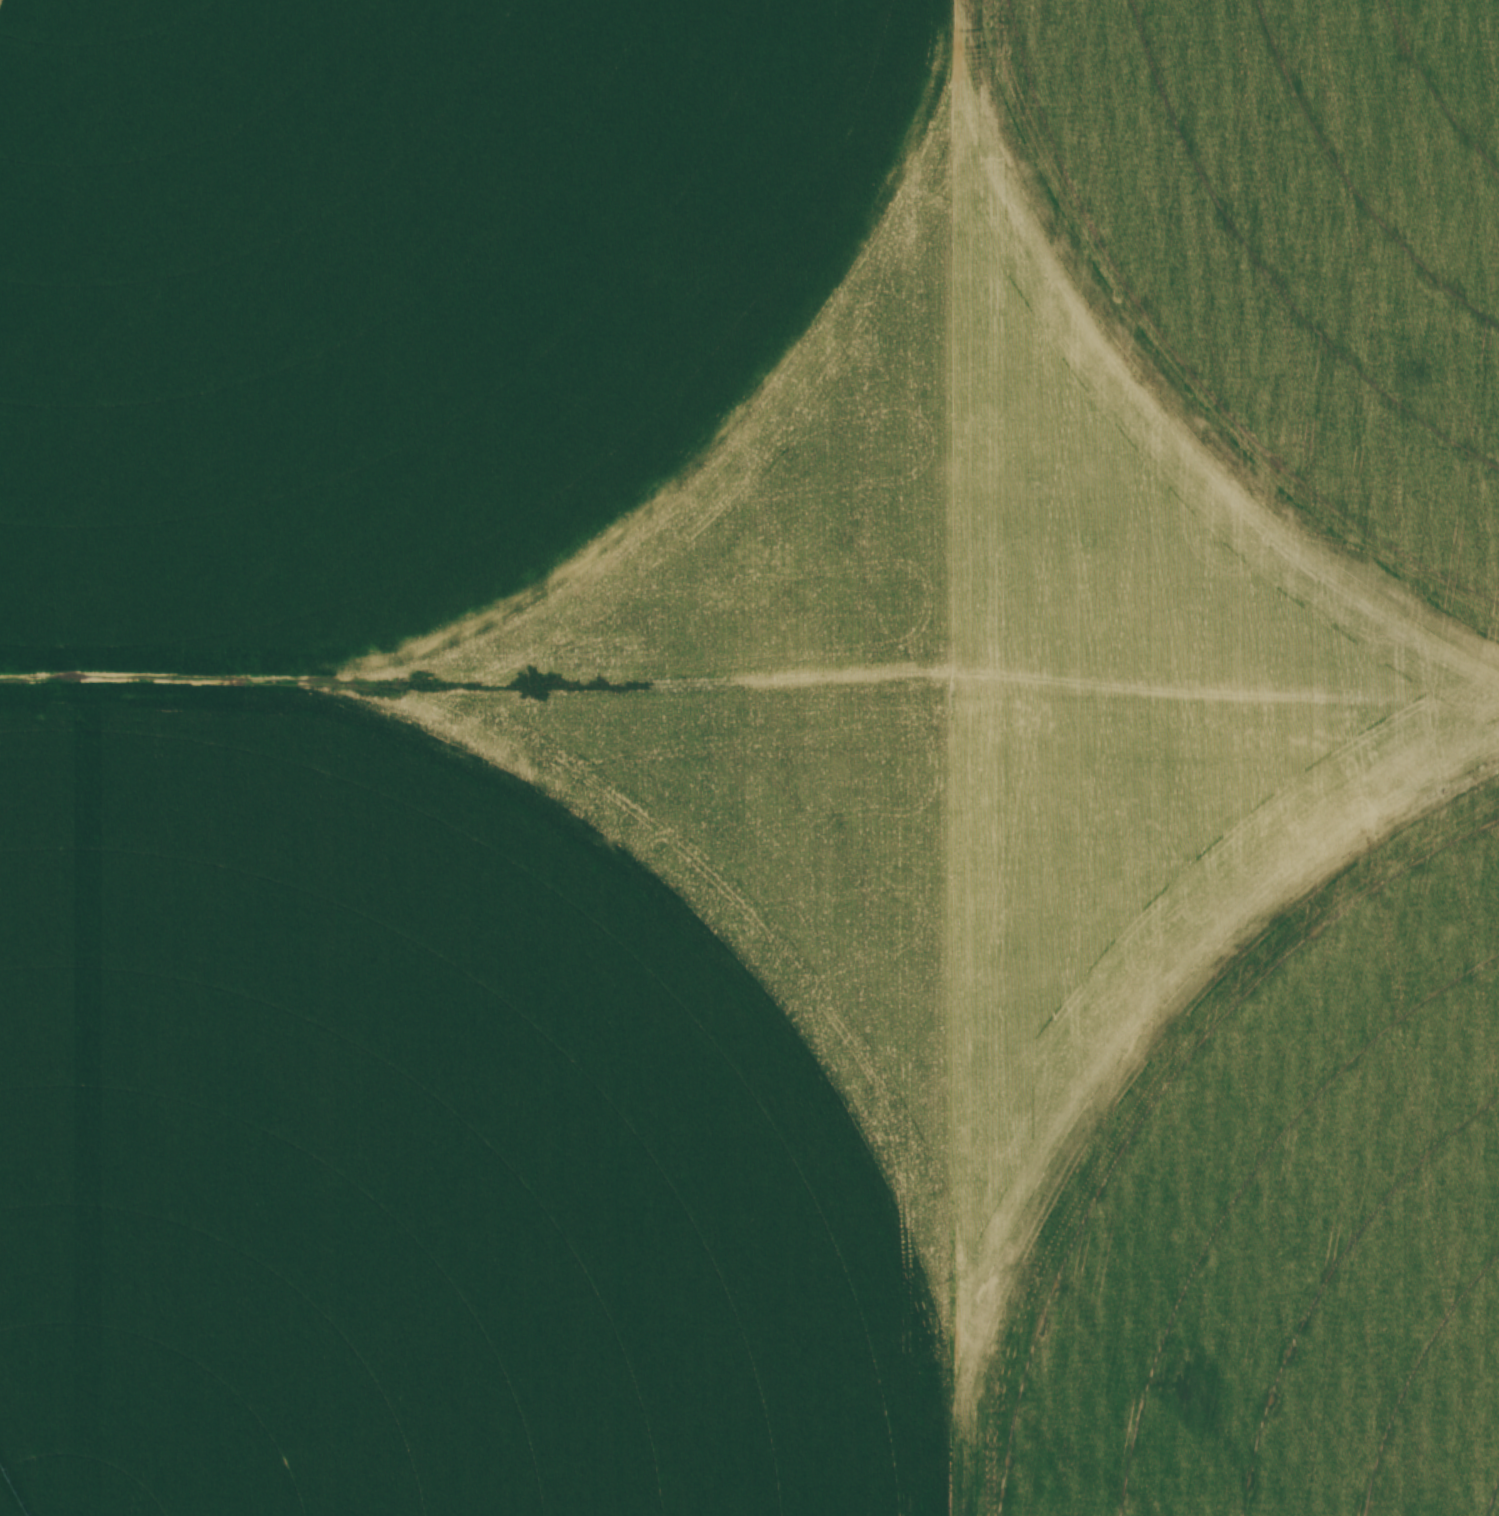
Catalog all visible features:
crop: (749, 758)

